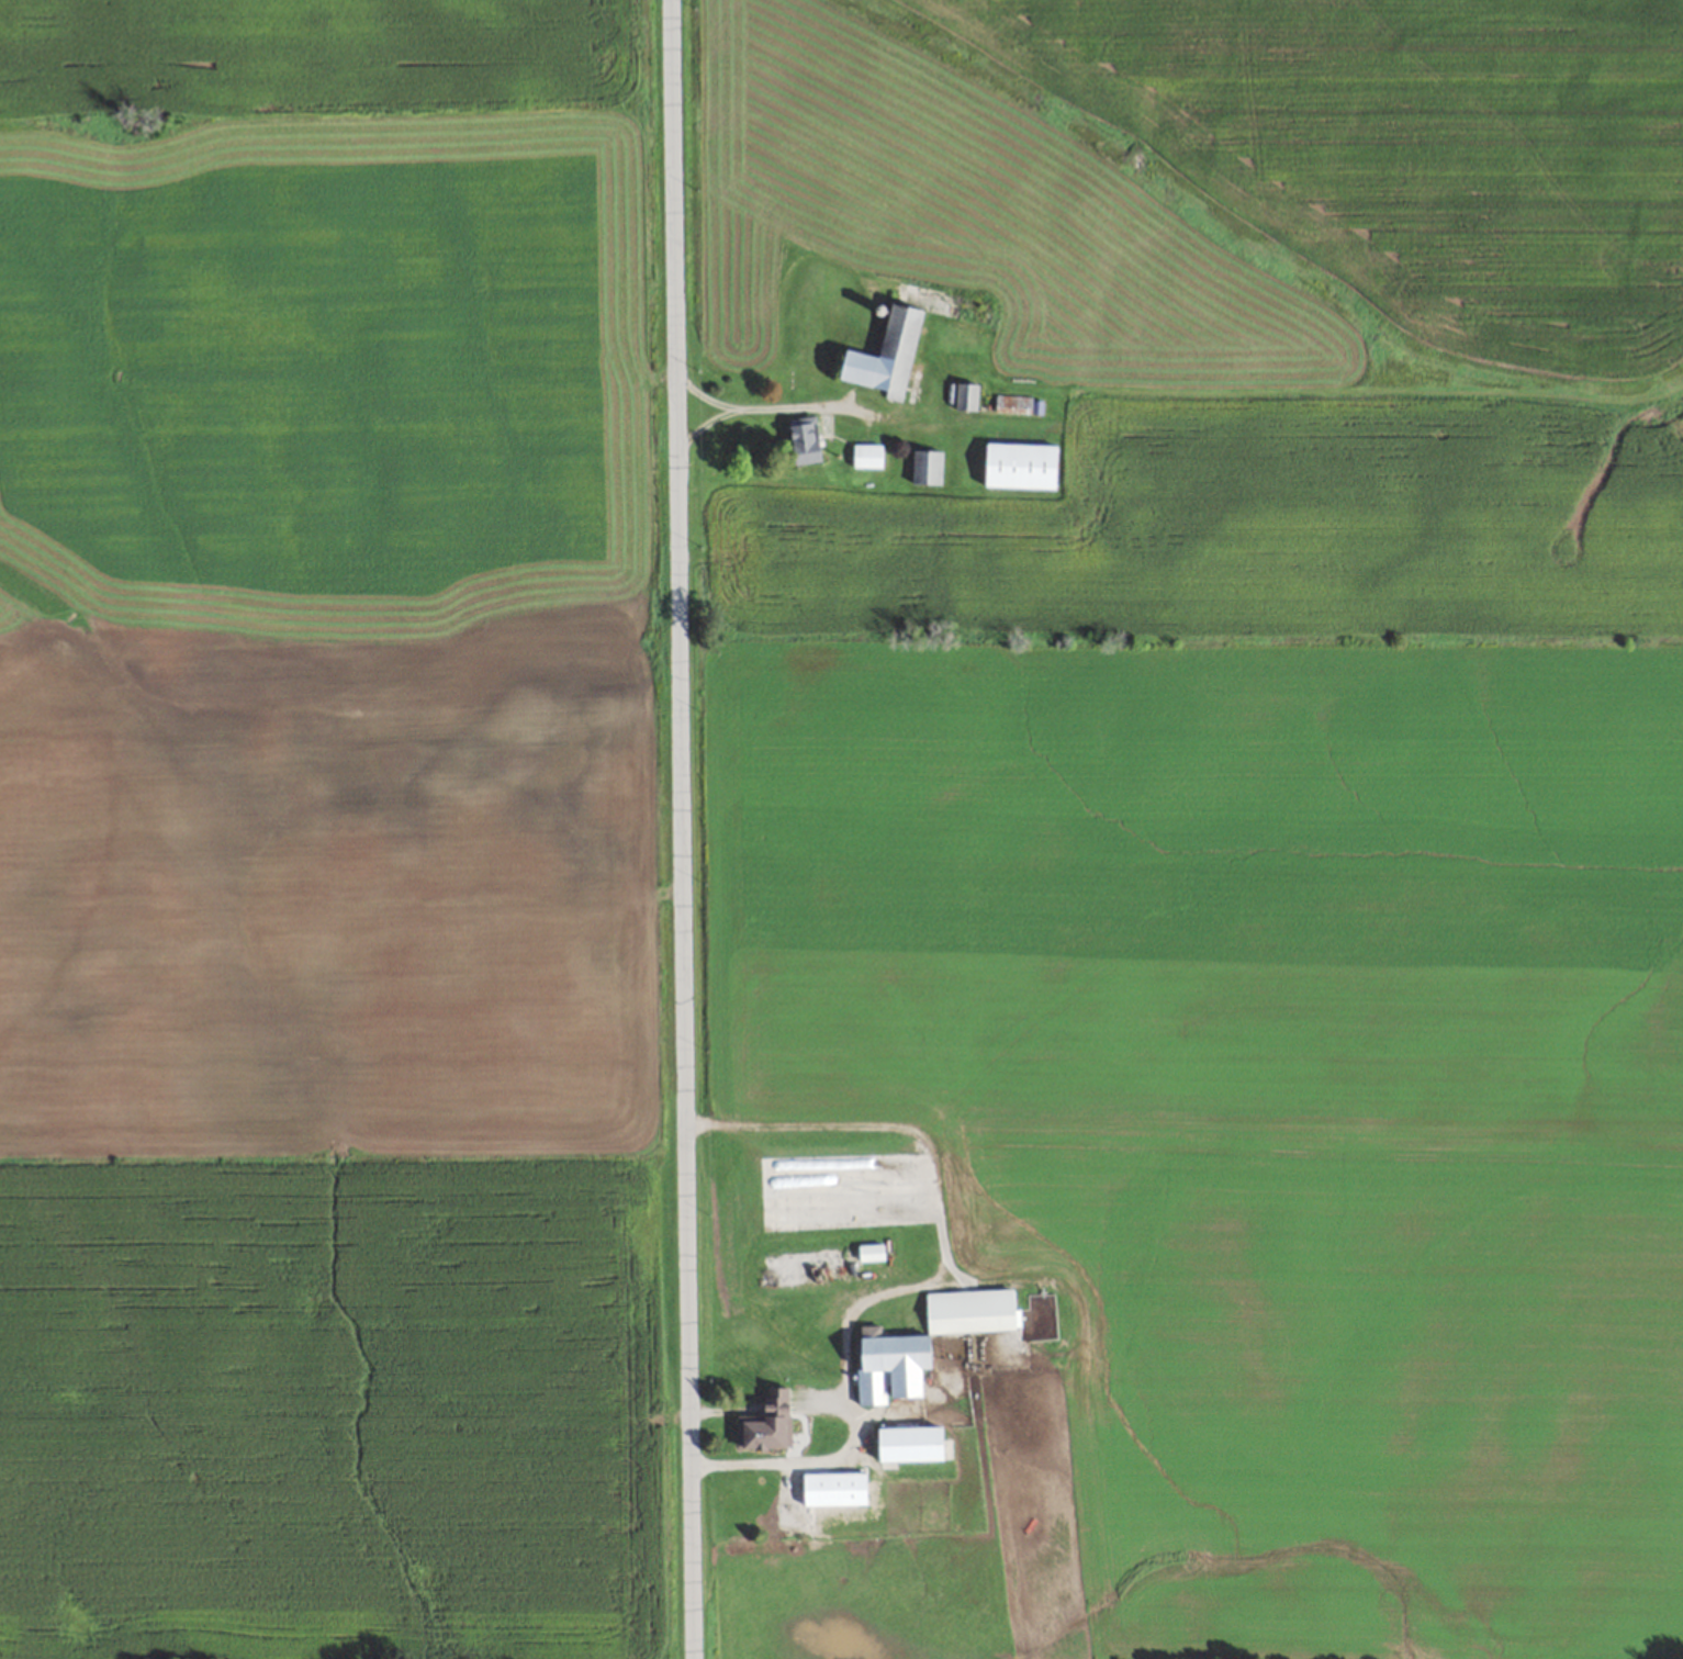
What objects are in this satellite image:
building: (889, 355)
building: (966, 396)
building: (805, 439)
building: (867, 455)
building: (1021, 466)
building: (927, 467)
road: (681, 829)
building: (820, 1264)
building: (928, 1342)
building: (761, 1435)
building: (912, 1445)
building: (835, 1489)

